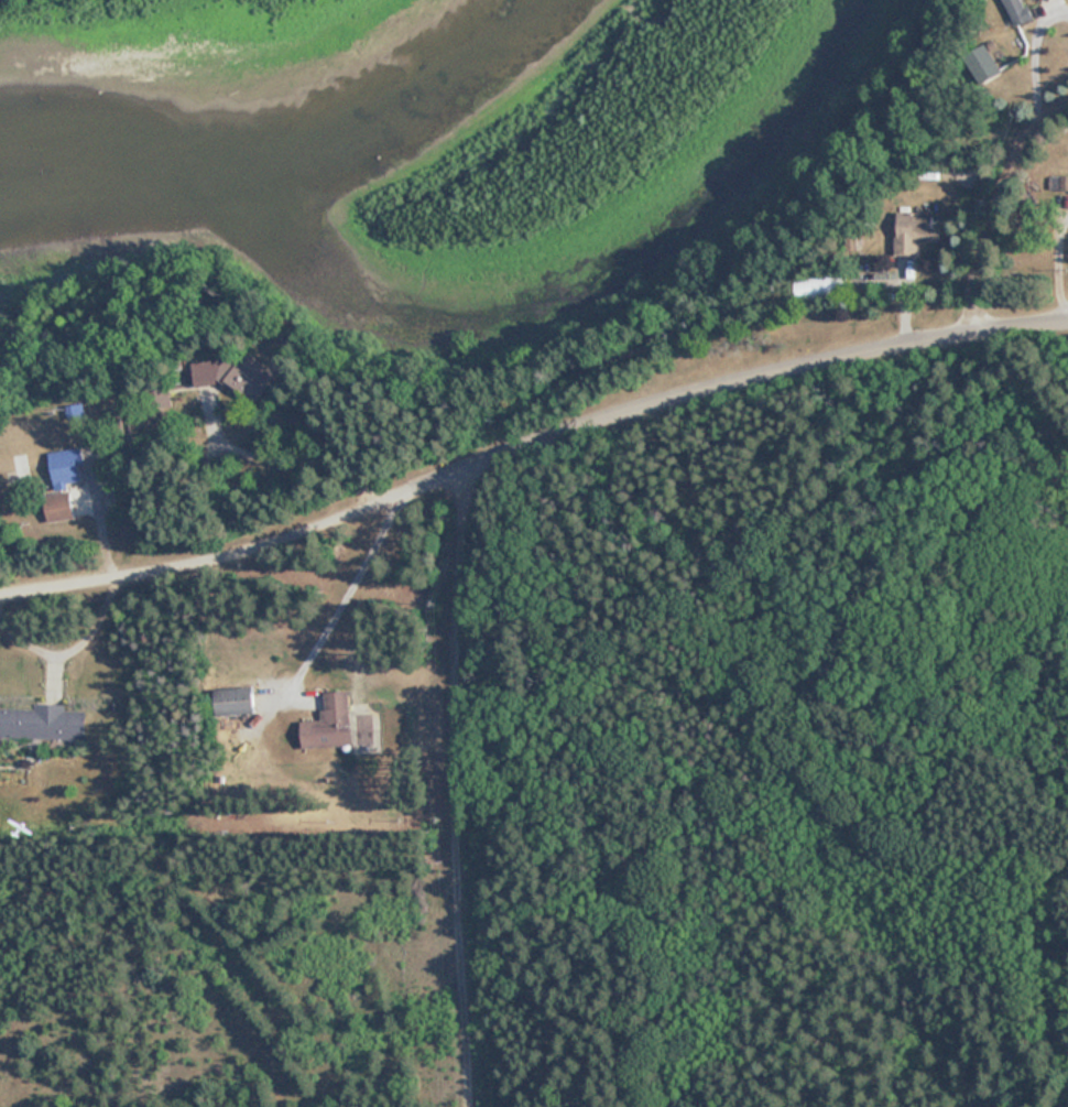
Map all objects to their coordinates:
building: (1046, 0)
building: (1021, 12)
road: (1028, 54)
building: (988, 70)
river: (257, 85)
building: (1065, 184)
road: (994, 203)
building: (916, 231)
building: (233, 372)
road: (528, 446)
building: (66, 468)
building: (58, 507)
road: (344, 599)
building: (235, 701)
building: (43, 721)
building: (328, 721)
road: (462, 785)
park: (649, 791)
road: (833, 847)

